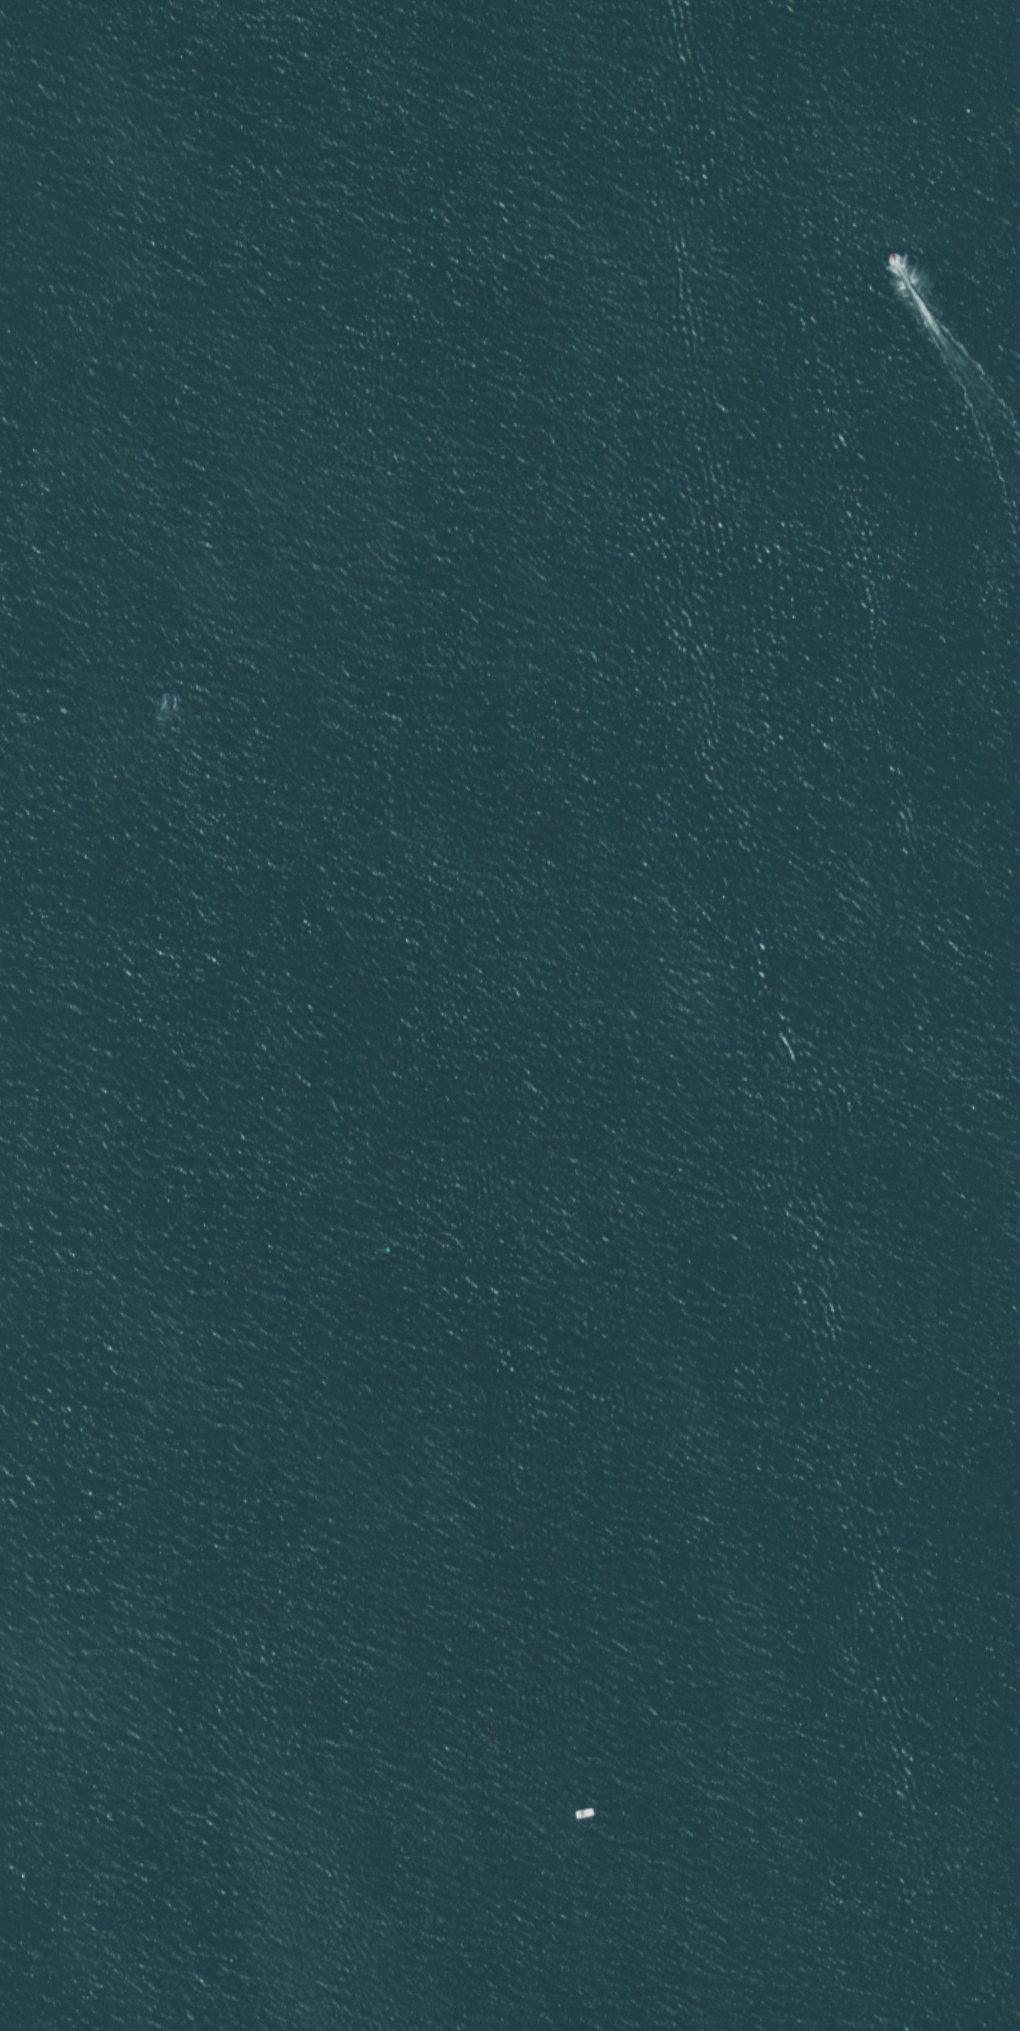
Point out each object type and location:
river: (636, 1013)

